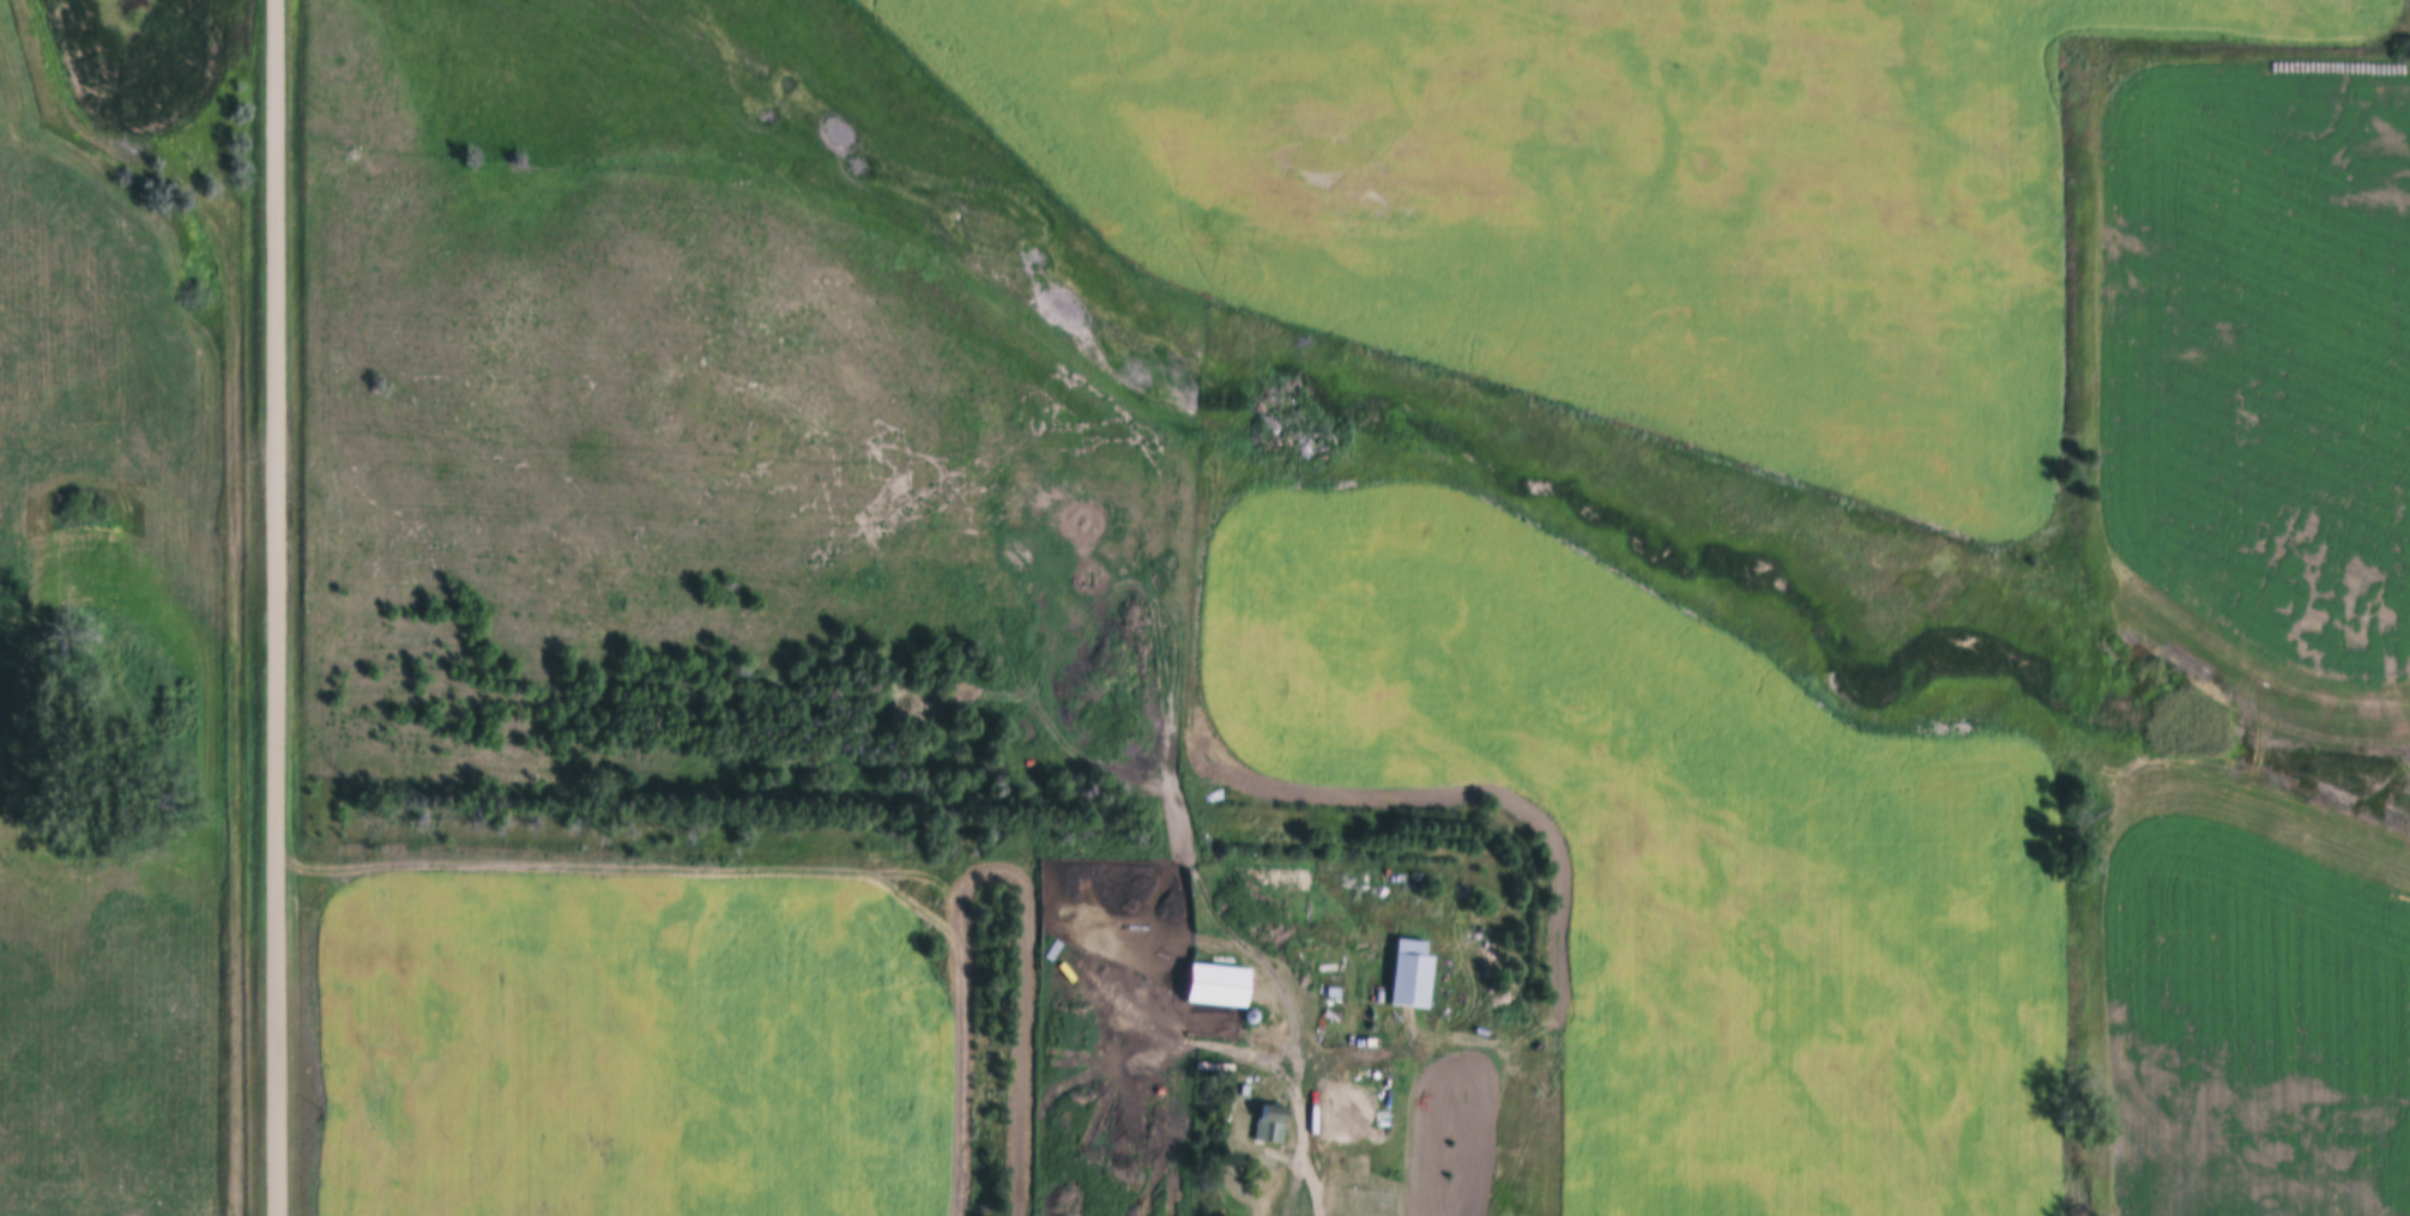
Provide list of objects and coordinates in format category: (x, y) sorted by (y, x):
road: (277, 607)
building: (1415, 975)
building: (1224, 985)
building: (1370, 1039)
building: (1276, 1125)
road: (1315, 1170)

